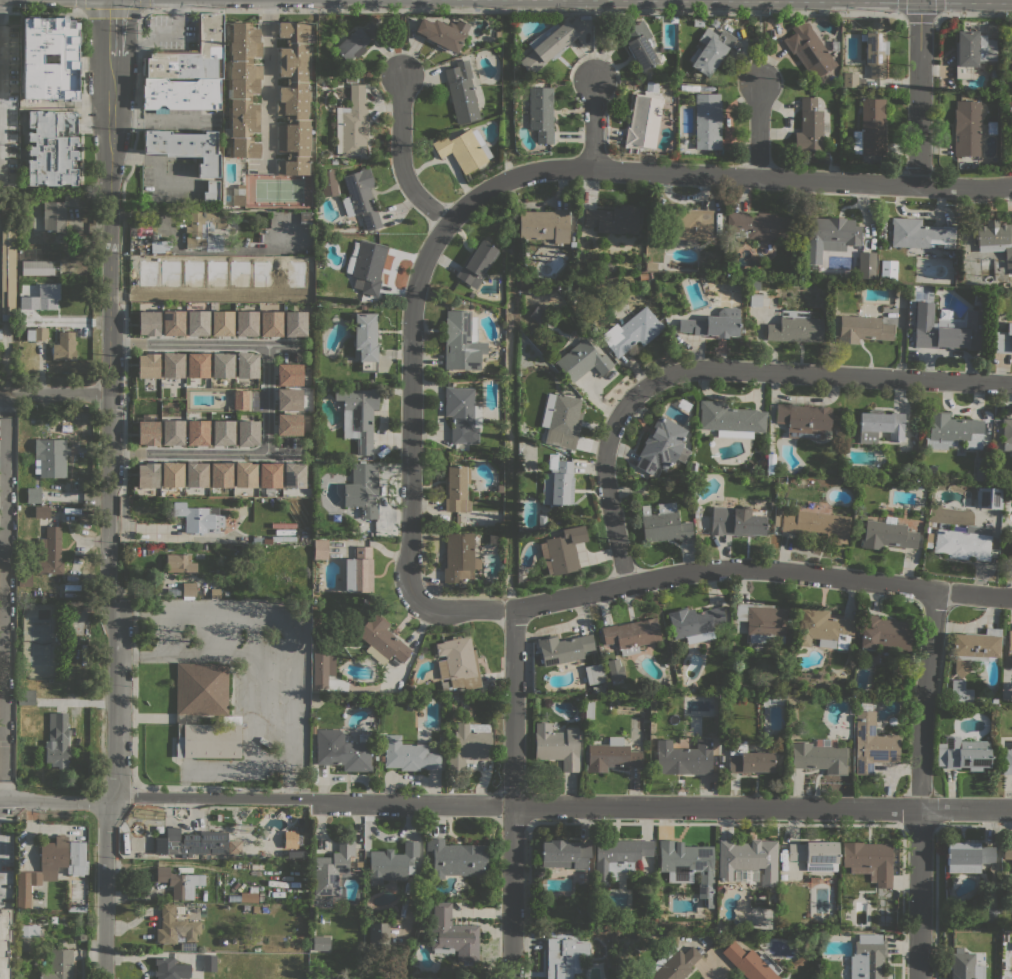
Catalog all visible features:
road: (902, 7)
road: (937, 7)
road: (111, 10)
road: (432, 10)
road: (974, 14)
road: (919, 15)
building: (585, 17)
building: (698, 22)
building: (714, 22)
road: (111, 27)
building: (443, 33)
building: (497, 34)
building: (355, 40)
road: (401, 42)
building: (549, 44)
road: (594, 44)
building: (639, 44)
road: (759, 48)
building: (465, 50)
building: (711, 51)
building: (809, 51)
road: (82, 52)
building: (972, 52)
building: (875, 53)
building: (191, 55)
building: (67, 58)
building: (1011, 66)
building: (995, 71)
building: (649, 76)
building: (851, 79)
road: (267, 80)
road: (3, 81)
building: (243, 89)
building: (461, 92)
road: (918, 92)
building: (180, 94)
building: (294, 98)
building: (541, 114)
building: (643, 121)
building: (707, 121)
road: (593, 122)
building: (352, 124)
building: (810, 126)
building: (870, 128)
building: (967, 128)
road: (758, 130)
building: (52, 147)
building: (185, 148)
building: (464, 149)
road: (400, 157)
road: (721, 175)
building: (329, 183)
building: (211, 191)
building: (238, 195)
building: (361, 197)
building: (57, 212)
building: (305, 217)
building: (613, 219)
building: (691, 224)
building: (544, 225)
building: (760, 225)
building: (203, 230)
building: (920, 233)
building: (829, 235)
building: (996, 240)
building: (157, 246)
building: (653, 253)
building: (952, 253)
building: (476, 264)
building: (366, 265)
building: (866, 265)
building: (651, 266)
building: (40, 267)
building: (886, 269)
building: (8, 273)
building: (168, 275)
building: (643, 275)
building: (753, 284)
building: (471, 294)
building: (40, 298)
building: (755, 300)
building: (539, 315)
building: (146, 321)
building: (172, 322)
building: (197, 323)
building: (222, 323)
building: (246, 323)
building: (271, 324)
building: (295, 324)
building: (714, 324)
building: (795, 327)
building: (862, 329)
building: (632, 332)
building: (0, 333)
building: (953, 333)
building: (36, 334)
building: (365, 340)
building: (1002, 340)
building: (462, 341)
building: (64, 346)
building: (582, 359)
building: (147, 363)
building: (172, 363)
building: (197, 365)
building: (222, 365)
building: (246, 365)
road: (40, 368)
road: (816, 373)
building: (289, 375)
road: (55, 394)
road: (267, 398)
building: (240, 399)
road: (124, 400)
building: (289, 400)
road: (410, 406)
road: (3, 409)
building: (462, 414)
building: (358, 416)
building: (730, 419)
building: (804, 420)
building: (562, 421)
building: (849, 423)
building: (288, 424)
building: (880, 425)
road: (110, 428)
building: (949, 430)
building: (172, 432)
building: (197, 432)
building: (223, 432)
building: (838, 432)
building: (147, 433)
building: (247, 433)
building: (1007, 433)
building: (660, 445)
road: (283, 451)
building: (51, 457)
road: (3, 464)
building: (769, 465)
building: (693, 466)
building: (171, 474)
building: (196, 474)
building: (245, 474)
building: (269, 474)
building: (147, 475)
building: (221, 475)
building: (293, 475)
building: (556, 482)
building: (499, 487)
building: (457, 488)
road: (606, 489)
building: (360, 490)
building: (33, 495)
building: (988, 498)
building: (42, 511)
building: (777, 511)
building: (199, 518)
building: (541, 520)
building: (737, 520)
building: (663, 523)
building: (819, 523)
building: (770, 527)
building: (887, 534)
building: (273, 539)
building: (963, 543)
building: (320, 549)
building: (562, 550)
building: (49, 552)
road: (3, 555)
building: (459, 557)
building: (179, 563)
road: (712, 568)
building: (358, 571)
building: (518, 575)
building: (24, 579)
building: (189, 590)
road: (6, 597)
building: (763, 621)
building: (694, 623)
building: (824, 628)
road: (164, 631)
building: (885, 633)
building: (630, 634)
road: (3, 640)
building: (381, 640)
building: (1009, 643)
building: (976, 645)
building: (563, 648)
building: (458, 663)
building: (958, 667)
building: (613, 668)
building: (898, 669)
building: (596, 673)
building: (960, 691)
road: (291, 694)
building: (25, 696)
road: (924, 698)
building: (773, 700)
building: (994, 700)
building: (589, 710)
building: (204, 711)
building: (312, 729)
road: (3, 730)
building: (57, 740)
building: (872, 743)
building: (468, 744)
building: (557, 745)
building: (343, 750)
building: (963, 753)
building: (408, 755)
building: (611, 755)
building: (819, 757)
building: (381, 758)
building: (683, 758)
building: (748, 759)
building: (1007, 760)
road: (289, 780)
road: (3, 782)
road: (513, 793)
road: (210, 796)
road: (56, 800)
road: (660, 805)
building: (290, 838)
building: (191, 842)
building: (234, 847)
building: (1007, 851)
building: (293, 854)
building: (565, 854)
building: (815, 854)
building: (967, 856)
building: (455, 858)
building: (618, 858)
building: (748, 859)
building: (869, 861)
building: (393, 862)
building: (688, 866)
building: (51, 867)
building: (331, 869)
building: (783, 876)
building: (179, 882)
road: (106, 888)
road: (918, 893)
building: (247, 896)
building: (75, 909)
building: (991, 915)
building: (175, 927)
building: (28, 931)
building: (454, 933)
building: (377, 935)
building: (82, 938)
building: (5, 939)
building: (259, 940)
building: (321, 943)
building: (24, 944)
building: (564, 957)
building: (867, 957)
building: (799, 961)
building: (751, 962)
building: (209, 963)
building: (673, 964)
building: (59, 965)
building: (965, 967)
building: (171, 968)

